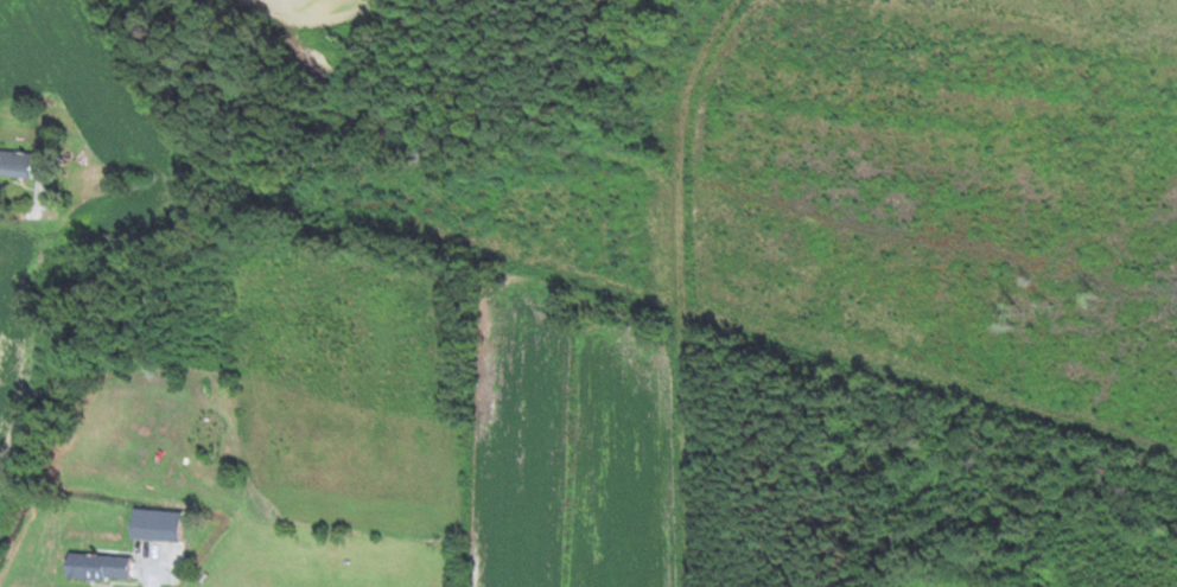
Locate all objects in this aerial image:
building: (14, 165)
road: (70, 200)
building: (154, 525)
road: (151, 562)
building: (96, 568)

